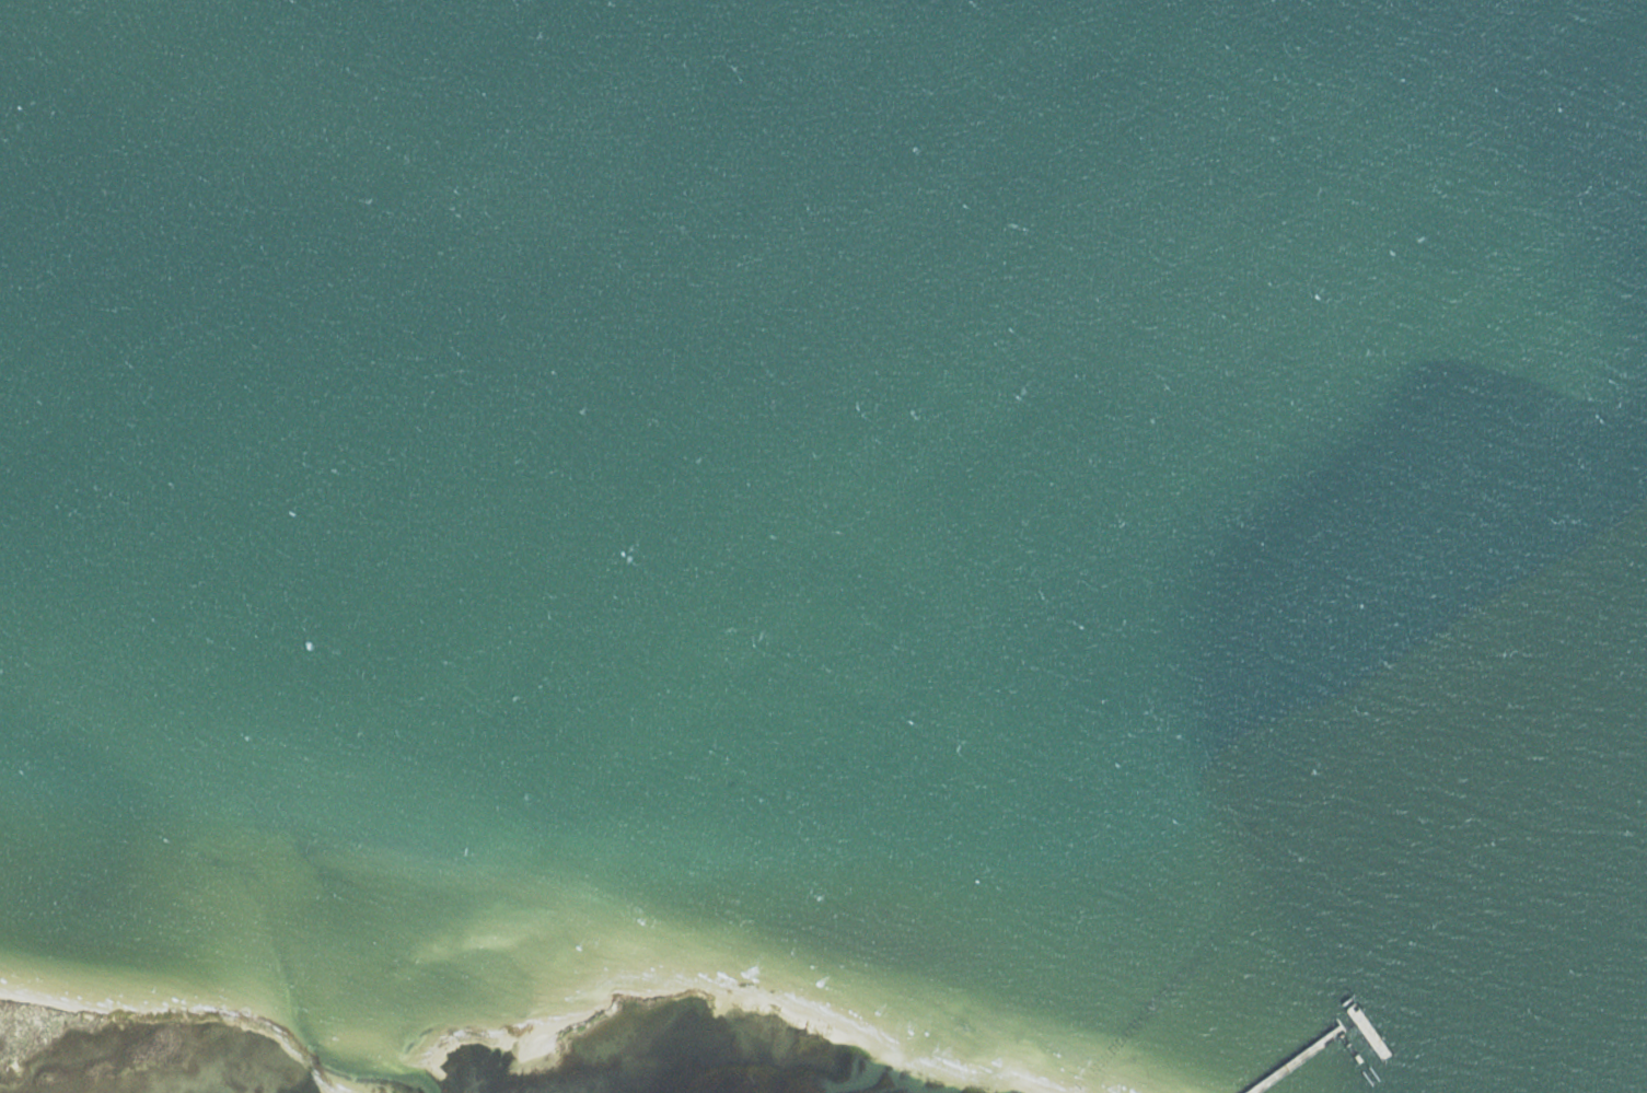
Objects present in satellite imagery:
pier: (1346, 1000)
pier: (1350, 1002)
pier: (1337, 1020)
pier: (1368, 1032)
pier: (1339, 1034)
pier: (1309, 1049)
pier: (1357, 1057)
pier: (1285, 1067)
pier: (1372, 1071)
pier: (1366, 1077)
pier: (1267, 1079)

